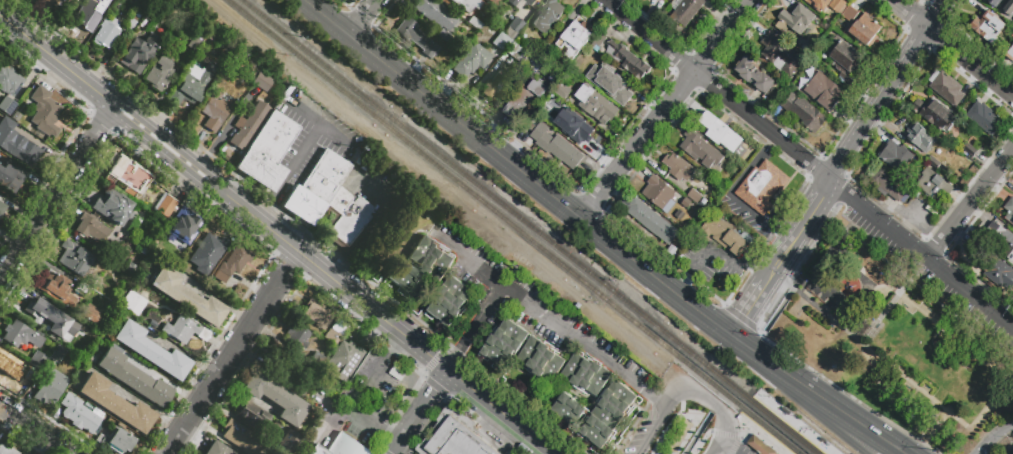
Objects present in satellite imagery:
building: (643, 0)
building: (496, 1)
road: (343, 3)
building: (518, 3)
building: (994, 3)
building: (52, 4)
building: (466, 4)
building: (828, 6)
building: (1009, 8)
building: (685, 11)
road: (912, 13)
building: (436, 14)
building: (850, 14)
road: (359, 16)
road: (361, 16)
building: (547, 16)
building: (87, 17)
building: (795, 19)
building: (474, 22)
building: (515, 24)
building: (130, 25)
building: (143, 26)
building: (988, 28)
building: (865, 29)
building: (105, 32)
building: (442, 34)
building: (415, 36)
building: (574, 39)
building: (500, 40)
building: (192, 41)
building: (596, 44)
building: (534, 52)
building: (516, 53)
building: (136, 54)
building: (780, 54)
building: (1010, 54)
road: (56, 59)
building: (844, 59)
building: (471, 60)
building: (627, 60)
road: (971, 60)
building: (535, 67)
building: (158, 73)
building: (753, 75)
building: (228, 78)
building: (6, 79)
building: (554, 80)
building: (260, 81)
building: (496, 83)
building: (615, 83)
building: (191, 84)
building: (577, 84)
building: (946, 88)
road: (717, 89)
road: (887, 89)
building: (821, 91)
building: (525, 98)
building: (7, 105)
building: (596, 105)
road: (477, 109)
road: (666, 109)
building: (214, 110)
building: (44, 111)
building: (804, 112)
building: (936, 113)
building: (15, 116)
building: (985, 119)
road: (134, 121)
building: (554, 122)
road: (225, 125)
building: (248, 125)
road: (320, 126)
road: (605, 129)
road: (145, 130)
road: (155, 132)
building: (585, 132)
building: (719, 132)
building: (920, 137)
building: (16, 143)
building: (557, 147)
road: (163, 150)
building: (700, 150)
building: (969, 150)
building: (267, 151)
road: (181, 158)
building: (899, 159)
building: (935, 165)
road: (295, 166)
road: (193, 167)
building: (679, 168)
road: (204, 171)
building: (126, 174)
building: (10, 178)
building: (736, 179)
road: (217, 183)
road: (535, 183)
building: (935, 184)
building: (889, 186)
building: (315, 187)
building: (761, 187)
road: (56, 192)
building: (660, 194)
road: (731, 195)
building: (695, 196)
building: (142, 197)
road: (592, 200)
building: (140, 202)
road: (815, 202)
road: (241, 203)
building: (687, 203)
building: (165, 204)
road: (971, 205)
building: (2, 206)
building: (112, 208)
building: (1009, 210)
road: (265, 212)
road: (378, 214)
building: (680, 214)
building: (346, 215)
building: (654, 222)
building: (183, 223)
railway: (514, 226)
railway: (528, 226)
building: (90, 227)
building: (130, 228)
building: (727, 236)
building: (1000, 239)
building: (118, 240)
building: (210, 246)
road: (787, 248)
road: (922, 252)
road: (662, 256)
building: (73, 257)
building: (431, 258)
road: (466, 258)
road: (295, 260)
building: (232, 263)
building: (995, 269)
road: (337, 271)
building: (402, 276)
parking lot: (925, 277)
road: (783, 278)
building: (55, 288)
building: (82, 290)
building: (187, 296)
road: (216, 296)
building: (153, 298)
building: (133, 301)
building: (450, 302)
road: (752, 302)
road: (779, 308)
building: (88, 312)
building: (316, 313)
road: (544, 314)
road: (739, 315)
building: (50, 317)
building: (183, 330)
road: (867, 333)
road: (956, 333)
building: (21, 335)
building: (332, 336)
road: (404, 338)
building: (297, 339)
road: (398, 342)
building: (505, 343)
park: (895, 344)
building: (88, 347)
building: (150, 350)
building: (57, 353)
building: (541, 359)
building: (37, 360)
road: (228, 360)
building: (316, 361)
building: (342, 361)
road: (451, 364)
building: (283, 365)
building: (11, 372)
building: (586, 374)
building: (133, 377)
road: (915, 384)
building: (50, 388)
building: (300, 388)
road: (846, 392)
road: (361, 395)
building: (275, 397)
street lamp: (769, 397)
road: (707, 399)
road: (651, 400)
road: (688, 400)
road: (991, 400)
parking lot: (363, 402)
road: (659, 402)
building: (115, 403)
road: (837, 407)
road: (815, 409)
building: (569, 410)
building: (249, 412)
road: (662, 412)
building: (78, 413)
road: (419, 413)
building: (608, 414)
street lamp: (794, 416)
parking lot: (688, 424)
road: (933, 425)
railway: (789, 426)
road: (631, 428)
road: (35, 429)
street lamp: (750, 429)
road: (745, 431)
road: (697, 433)
road: (1000, 433)
road: (725, 434)
road: (395, 435)
railway: (763, 435)
building: (454, 436)
road: (647, 436)
building: (241, 437)
building: (116, 441)
building: (287, 441)
road: (700, 441)
building: (350, 444)
road: (735, 446)
building: (761, 446)
road: (735, 447)
road: (722, 448)
road: (984, 448)
building: (216, 449)
building: (335, 449)
building: (7, 450)
building: (311, 450)
road: (1011, 452)
building: (511, 453)

